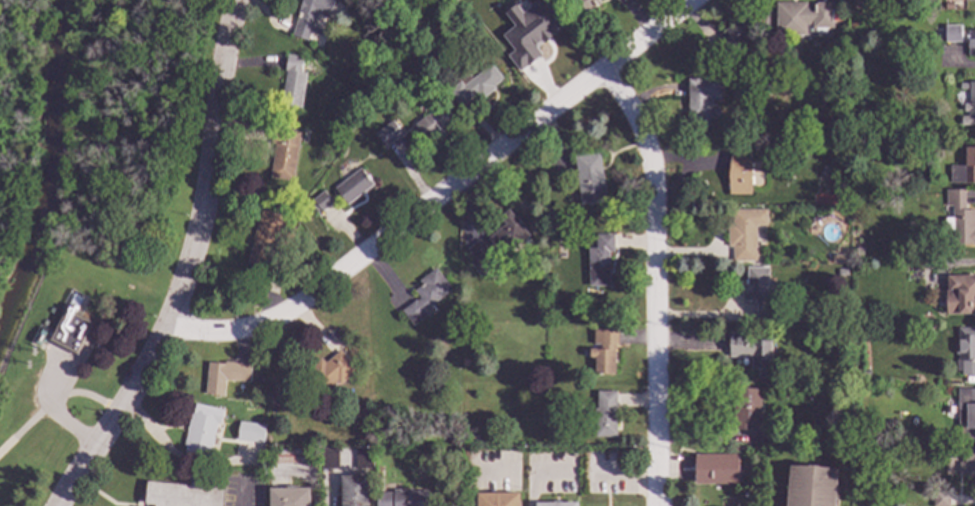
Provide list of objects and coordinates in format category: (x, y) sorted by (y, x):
building: (452, 0)
building: (968, 0)
building: (583, 5)
building: (308, 18)
building: (801, 18)
building: (950, 33)
building: (735, 36)
building: (533, 40)
building: (970, 43)
building: (773, 81)
building: (291, 82)
building: (473, 85)
building: (701, 100)
building: (969, 107)
building: (432, 122)
building: (387, 134)
building: (282, 153)
building: (964, 168)
building: (828, 173)
building: (738, 174)
building: (588, 179)
building: (352, 186)
road: (440, 192)
building: (321, 201)
park: (88, 211)
road: (202, 211)
building: (959, 220)
building: (560, 231)
building: (743, 233)
building: (505, 234)
building: (262, 238)
building: (478, 258)
building: (838, 259)
building: (599, 260)
building: (841, 273)
road: (655, 280)
building: (963, 292)
building: (757, 293)
building: (424, 295)
building: (870, 312)
building: (68, 330)
building: (602, 351)
building: (965, 351)
building: (750, 352)
building: (463, 363)
building: (330, 370)
building: (222, 375)
building: (843, 381)
building: (326, 399)
road: (55, 400)
building: (745, 408)
road: (56, 413)
building: (602, 414)
building: (966, 415)
building: (434, 419)
building: (201, 432)
building: (248, 432)
building: (473, 436)
building: (572, 454)
road: (88, 455)
building: (295, 455)
building: (327, 458)
building: (362, 458)
building: (967, 463)
building: (714, 469)
road: (539, 481)
road: (628, 482)
building: (809, 487)
building: (353, 491)
building: (184, 493)
building: (288, 497)
building: (404, 498)
building: (496, 499)
building: (939, 499)
building: (555, 504)

